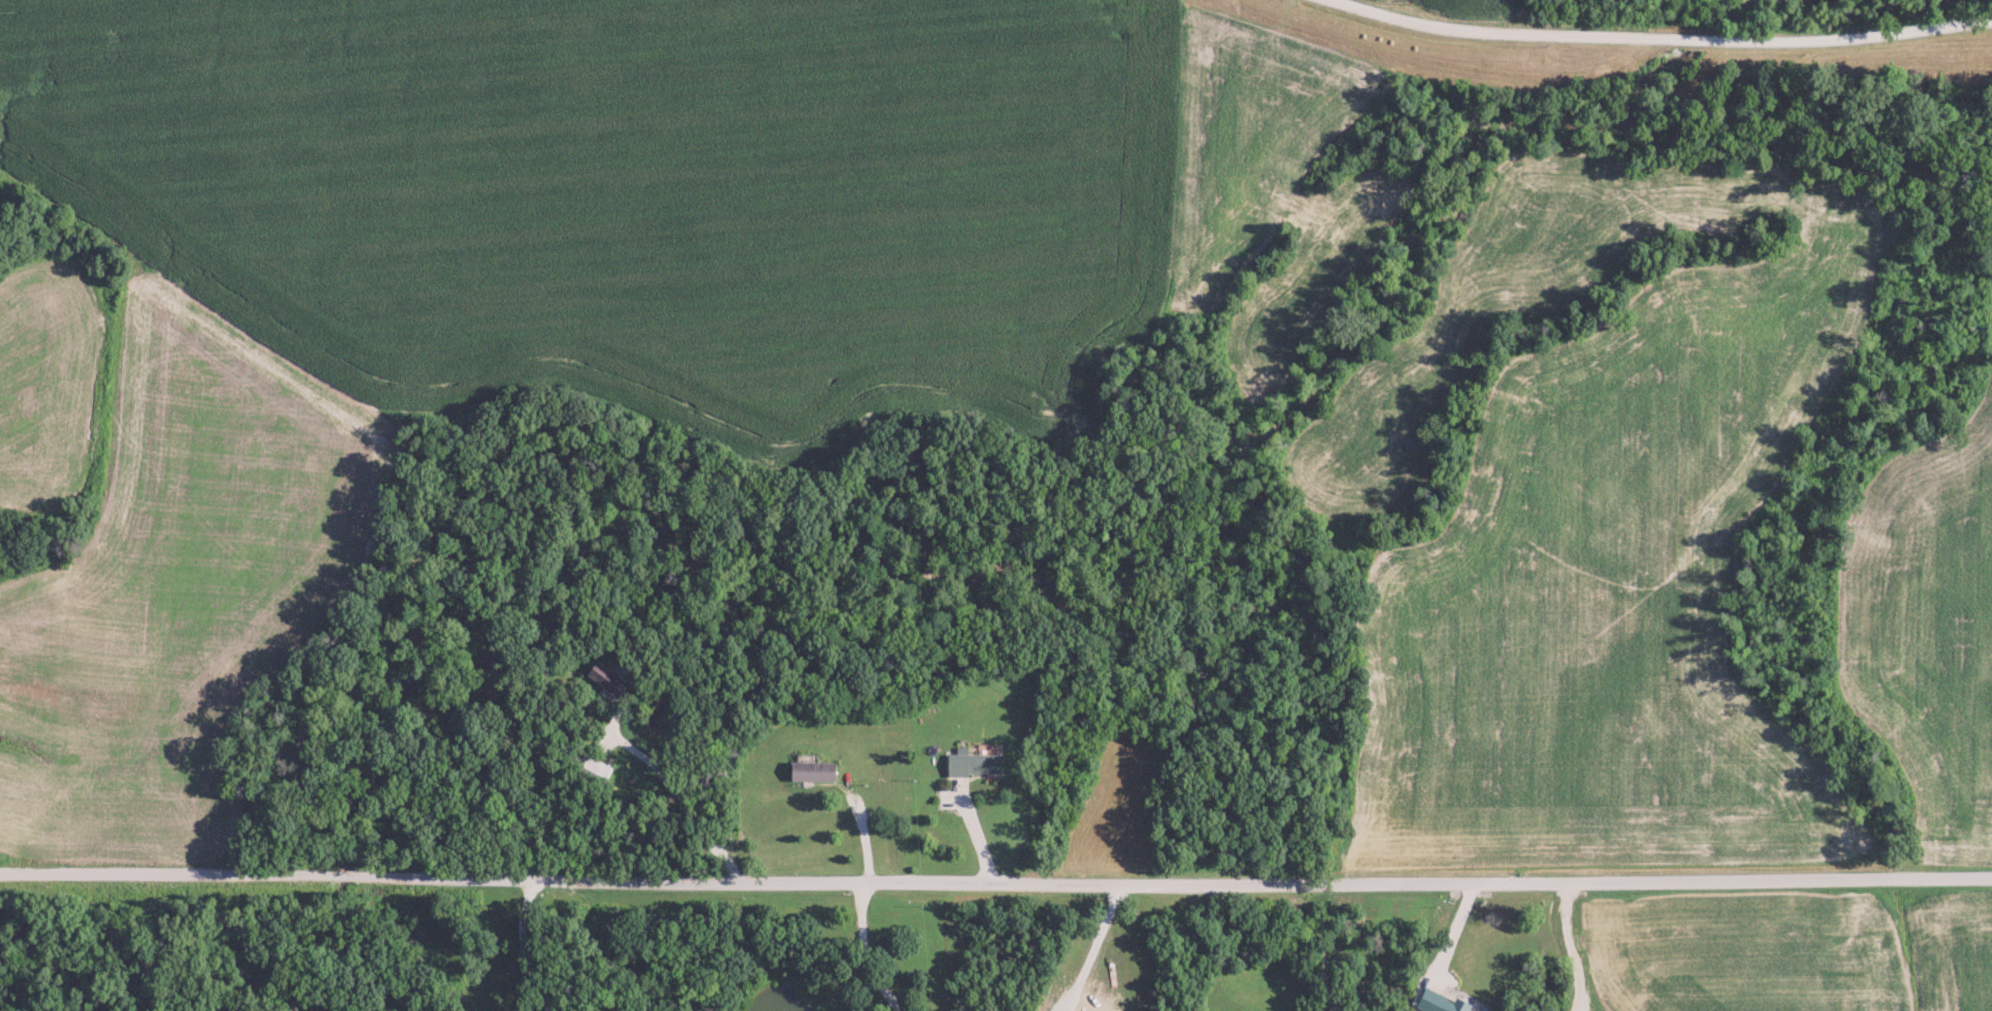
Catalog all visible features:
road: (1654, 39)
building: (612, 678)
building: (977, 762)
building: (598, 771)
building: (818, 771)
road: (995, 883)
building: (1443, 1002)

